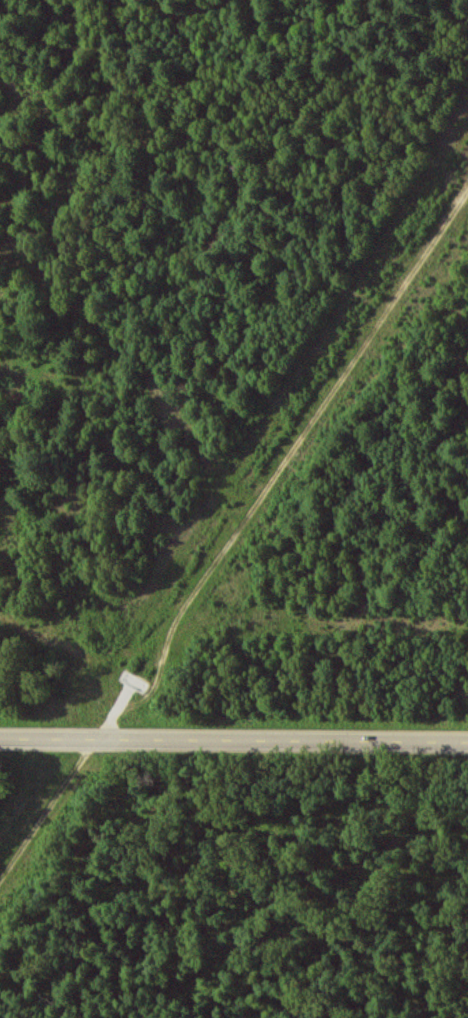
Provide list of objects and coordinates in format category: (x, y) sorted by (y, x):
road: (234, 742)

